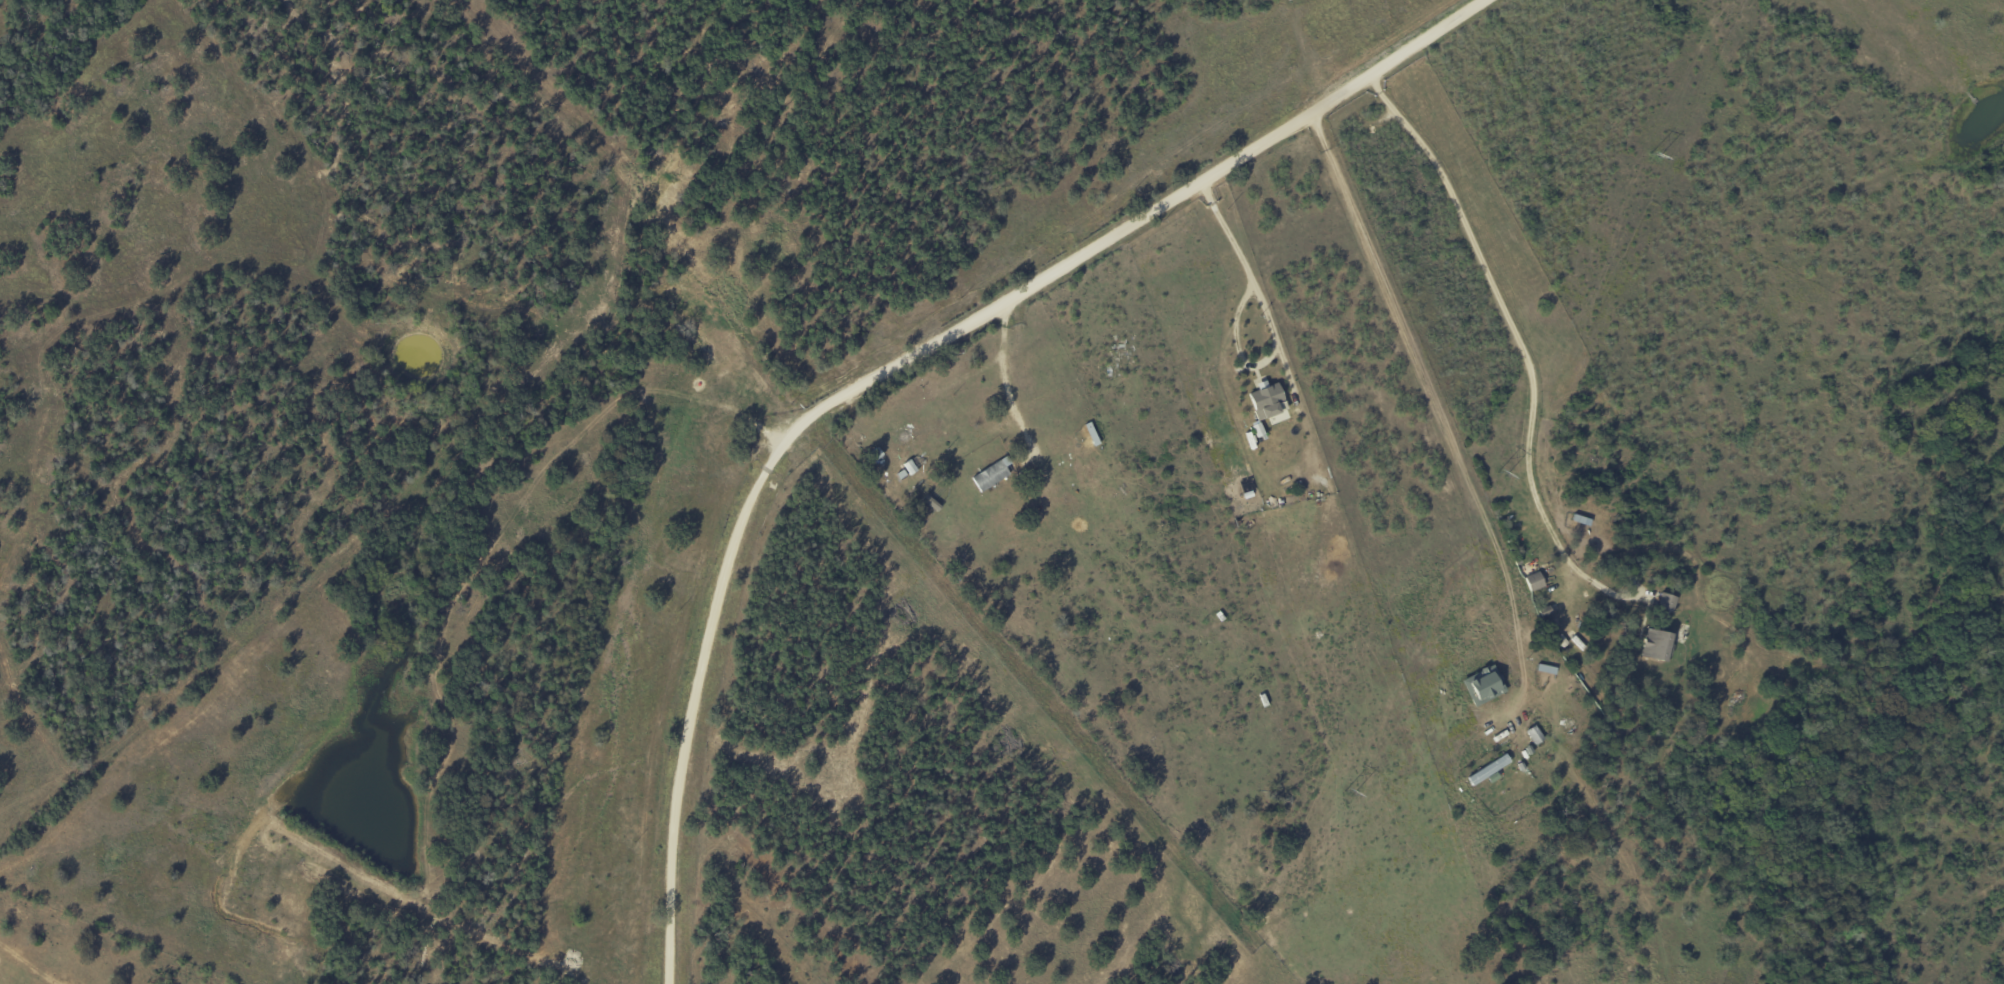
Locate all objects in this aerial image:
power tower: (1652, 158)
road: (1274, 317)
road: (1519, 348)
road: (892, 366)
road: (1001, 374)
building: (1268, 403)
road: (1423, 408)
building: (912, 464)
building: (990, 474)
power tower: (1500, 477)
building: (1533, 581)
building: (1666, 602)
building: (1655, 645)
building: (1546, 668)
building: (1482, 685)
building: (1533, 734)
building: (1488, 770)
power tower: (1347, 794)

